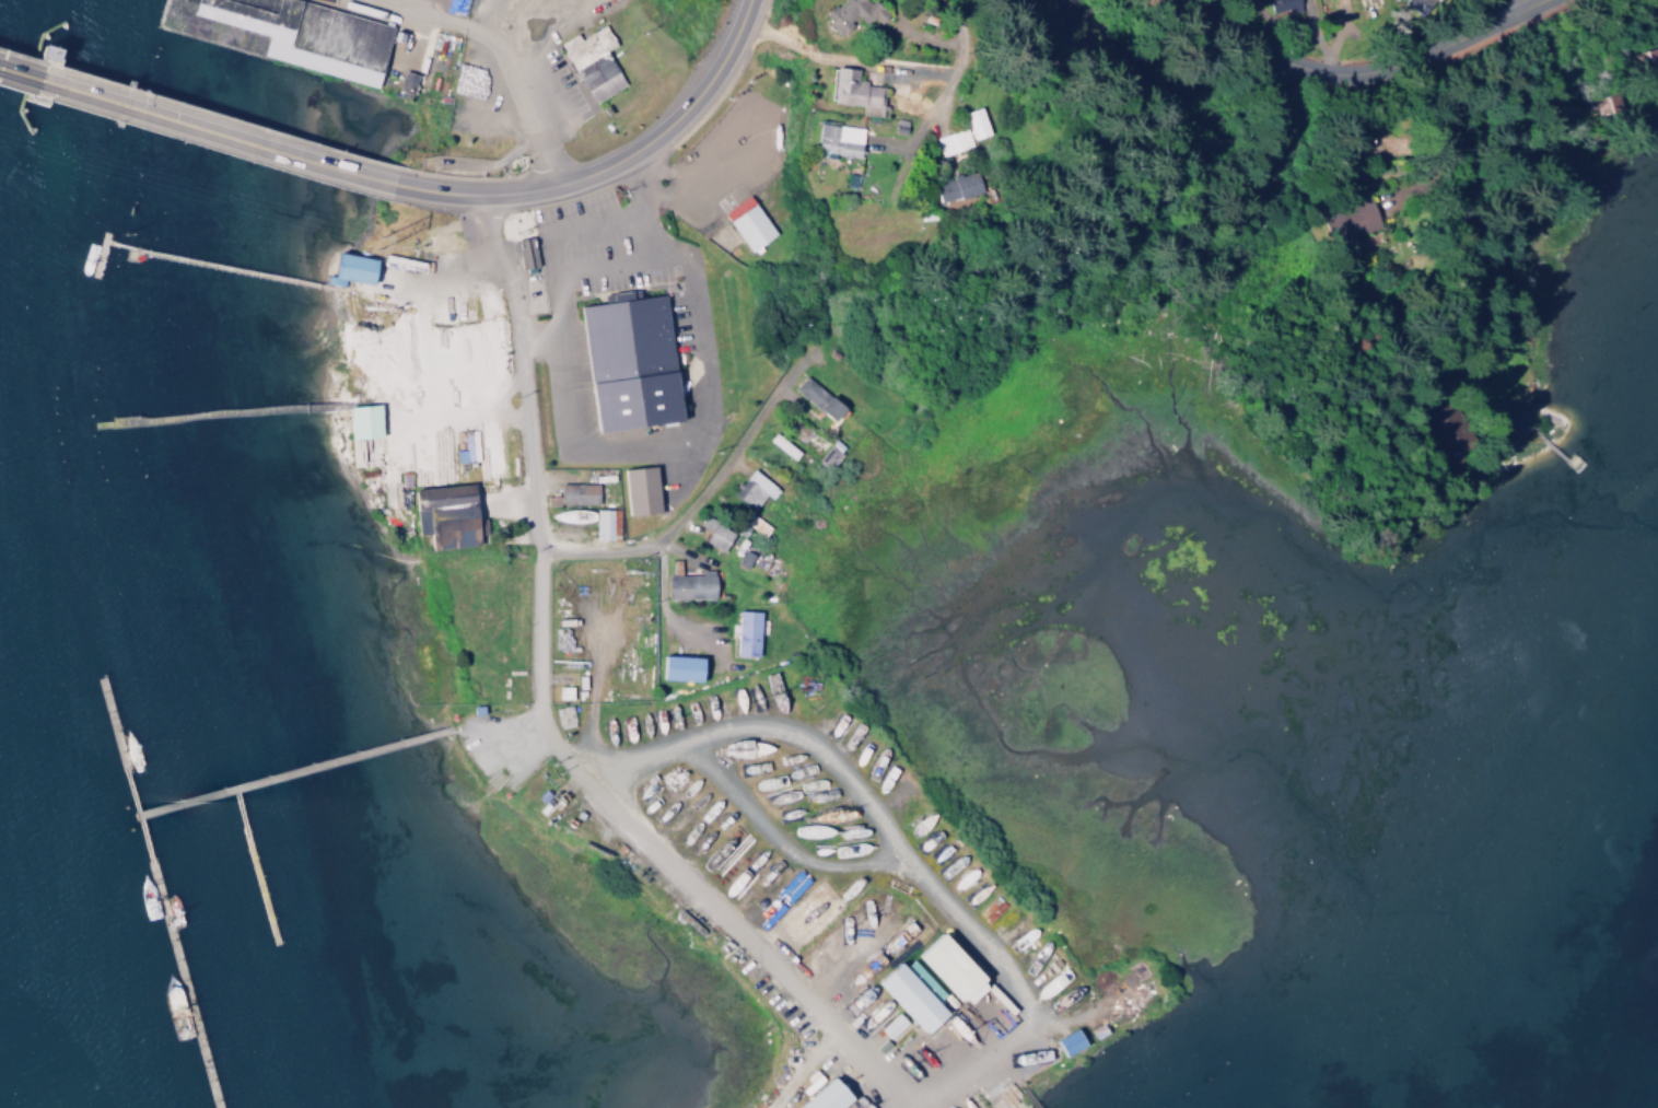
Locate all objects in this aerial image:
building: (1365, 2)
building: (1420, 4)
building: (1280, 7)
road: (1501, 7)
building: (853, 13)
pier: (222, 22)
building: (288, 33)
road: (1336, 34)
road: (950, 44)
road: (503, 48)
building: (592, 60)
road: (1357, 68)
road: (16, 69)
parking lot: (552, 72)
building: (854, 90)
building: (977, 121)
road: (221, 129)
building: (838, 140)
building: (951, 141)
road: (616, 158)
parking lot: (721, 159)
building: (957, 186)
road: (692, 205)
building: (1350, 219)
building: (749, 221)
road: (119, 244)
pier: (96, 253)
road: (550, 254)
parking lot: (616, 257)
building: (350, 268)
pier: (234, 269)
building: (626, 294)
building: (632, 363)
road: (515, 368)
building: (818, 397)
pier: (217, 416)
building: (362, 421)
building: (480, 455)
building: (828, 455)
building: (752, 488)
building: (640, 490)
building: (574, 493)
road: (699, 499)
building: (445, 515)
building: (574, 518)
building: (603, 523)
building: (716, 533)
building: (690, 583)
building: (747, 632)
building: (562, 633)
building: (681, 666)
building: (562, 715)
pier: (110, 724)
parking lot: (499, 745)
pier: (289, 770)
road: (128, 788)
road: (237, 815)
building: (812, 830)
road: (880, 831)
road: (777, 840)
road: (141, 841)
road: (650, 858)
pier: (261, 888)
building: (956, 966)
pier: (179, 982)
building: (915, 992)
building: (892, 1025)
building: (1070, 1041)
road: (992, 1082)
building: (830, 1096)
pier: (1025, 1096)

